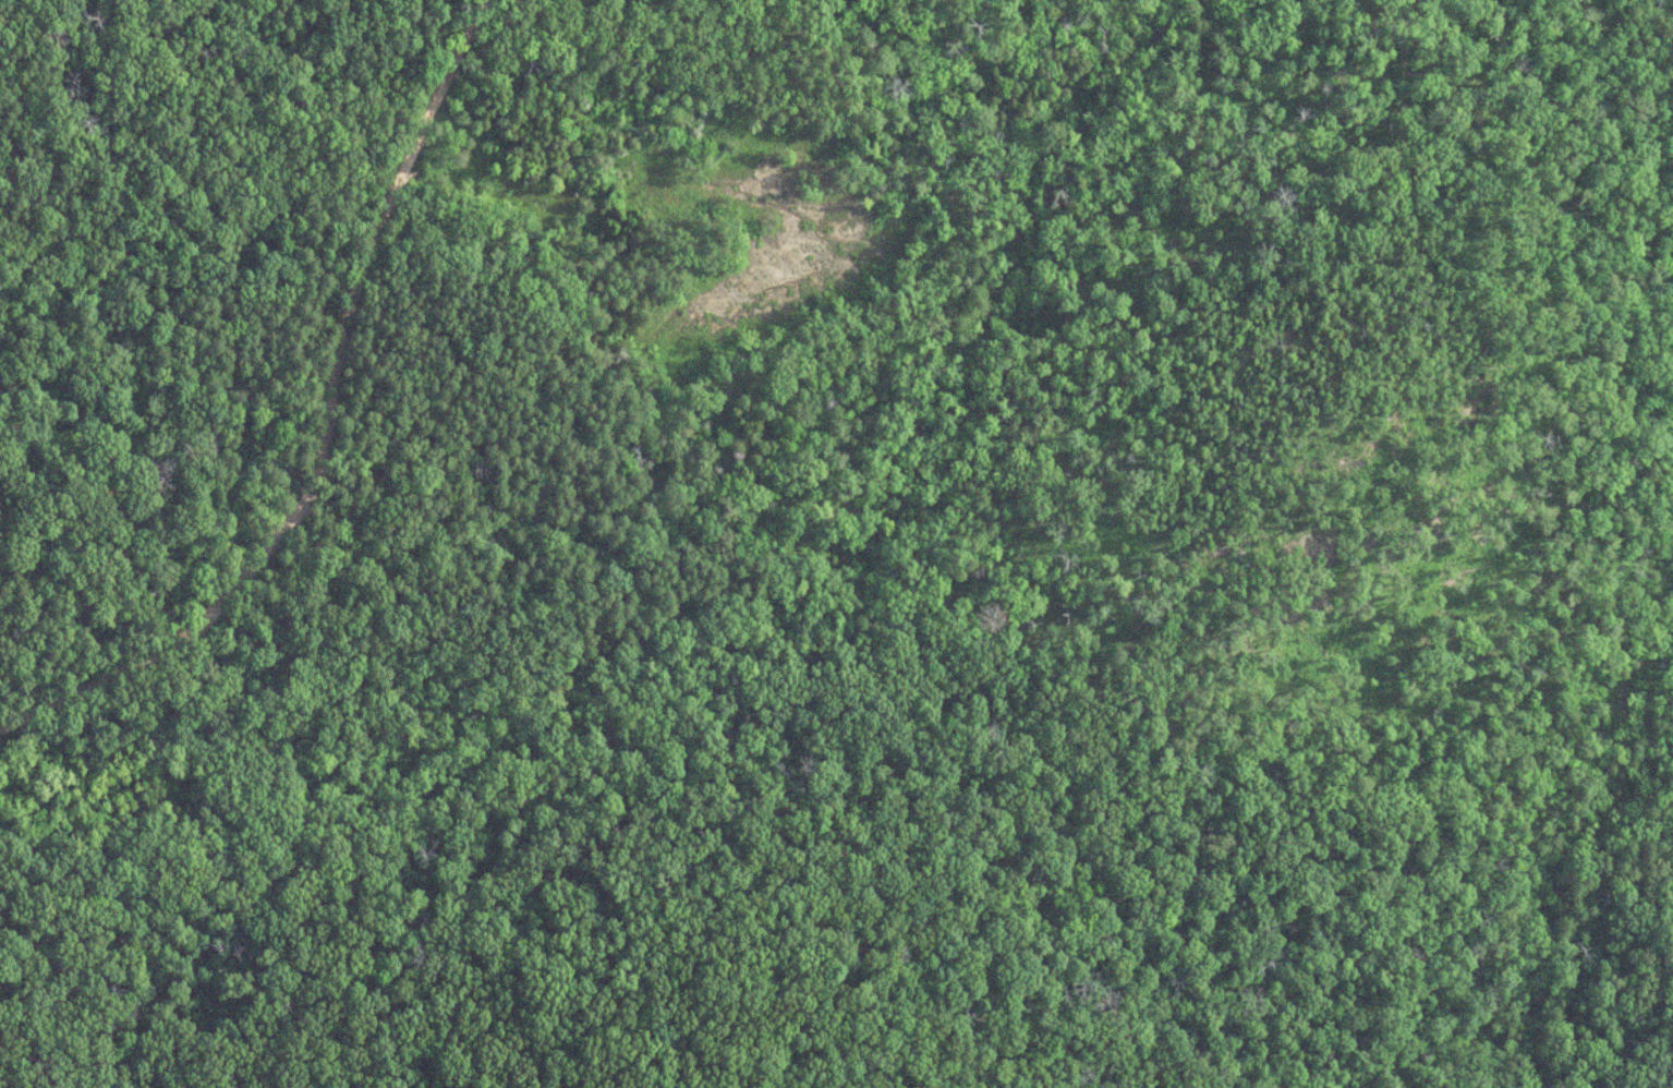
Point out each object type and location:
road: (339, 440)

